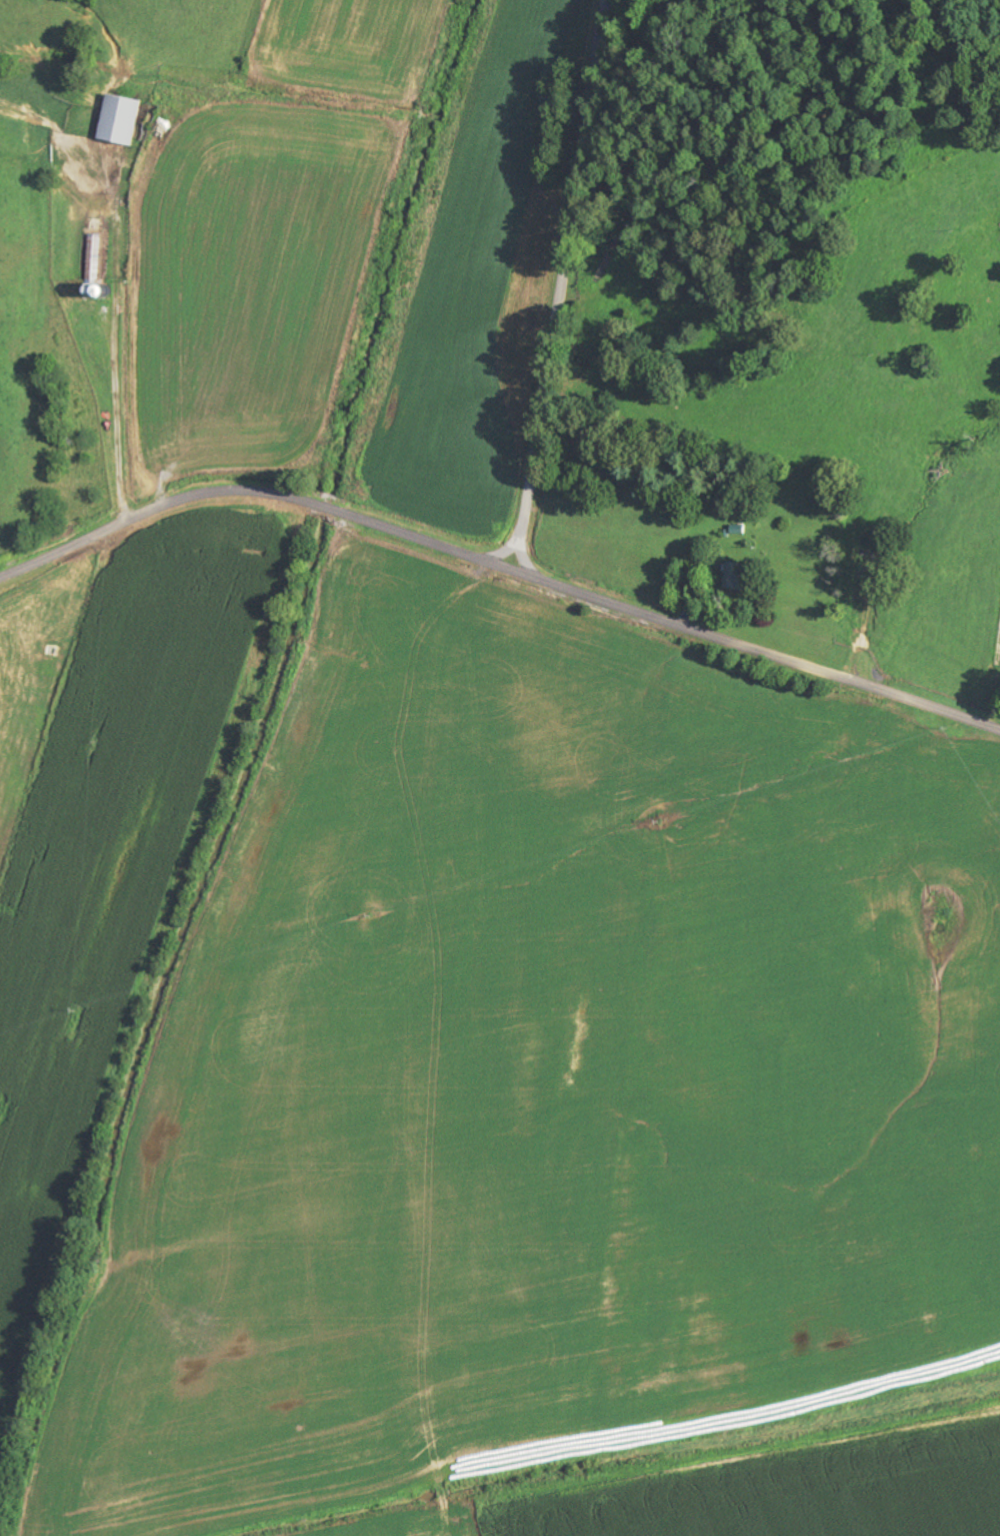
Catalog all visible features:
building: (120, 119)
building: (93, 259)
road: (563, 290)
road: (505, 548)
road: (499, 566)
building: (734, 576)

